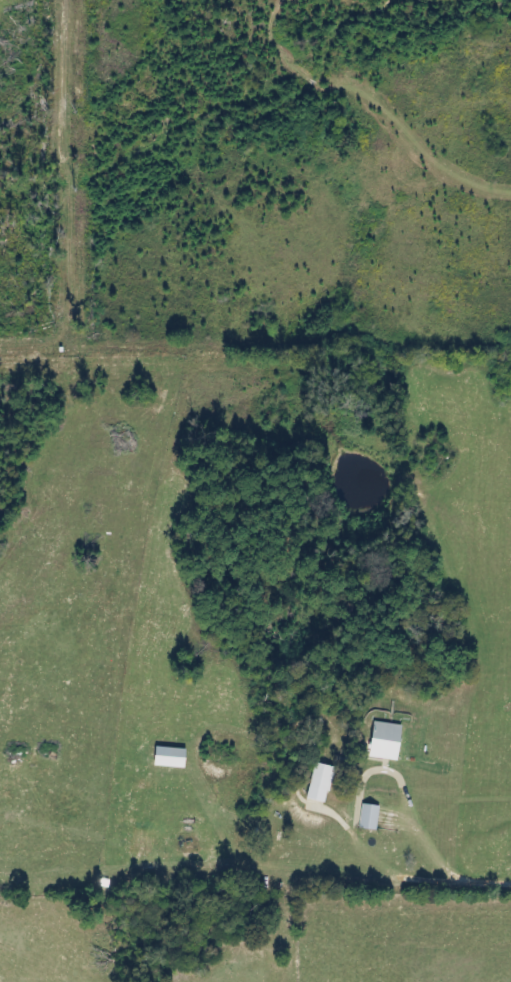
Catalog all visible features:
building: (385, 741)
building: (170, 758)
building: (320, 783)
building: (368, 817)

